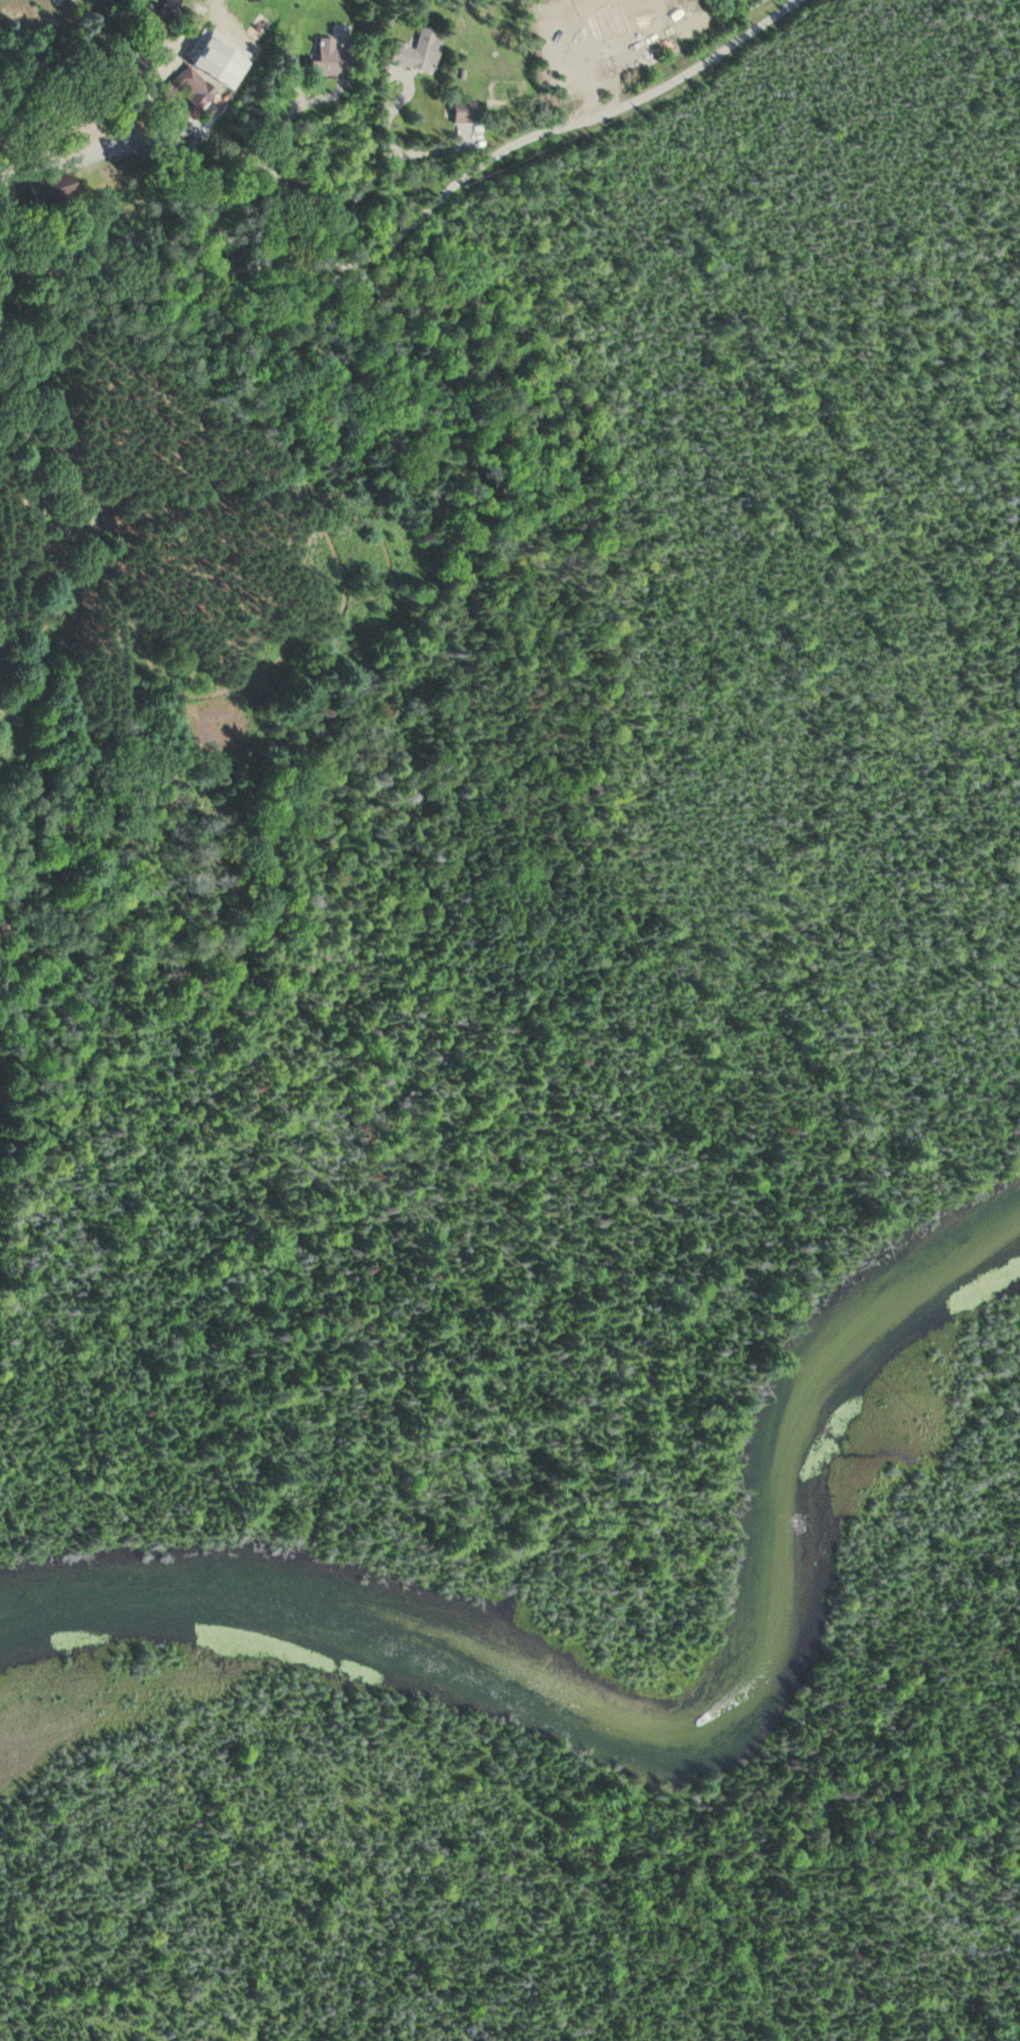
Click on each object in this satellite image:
building: (55, 1)
building: (169, 12)
building: (421, 53)
road: (70, 54)
building: (334, 63)
building: (199, 87)
building: (467, 113)
road: (100, 149)
road: (420, 214)
river: (649, 1733)
road: (773, 2013)

